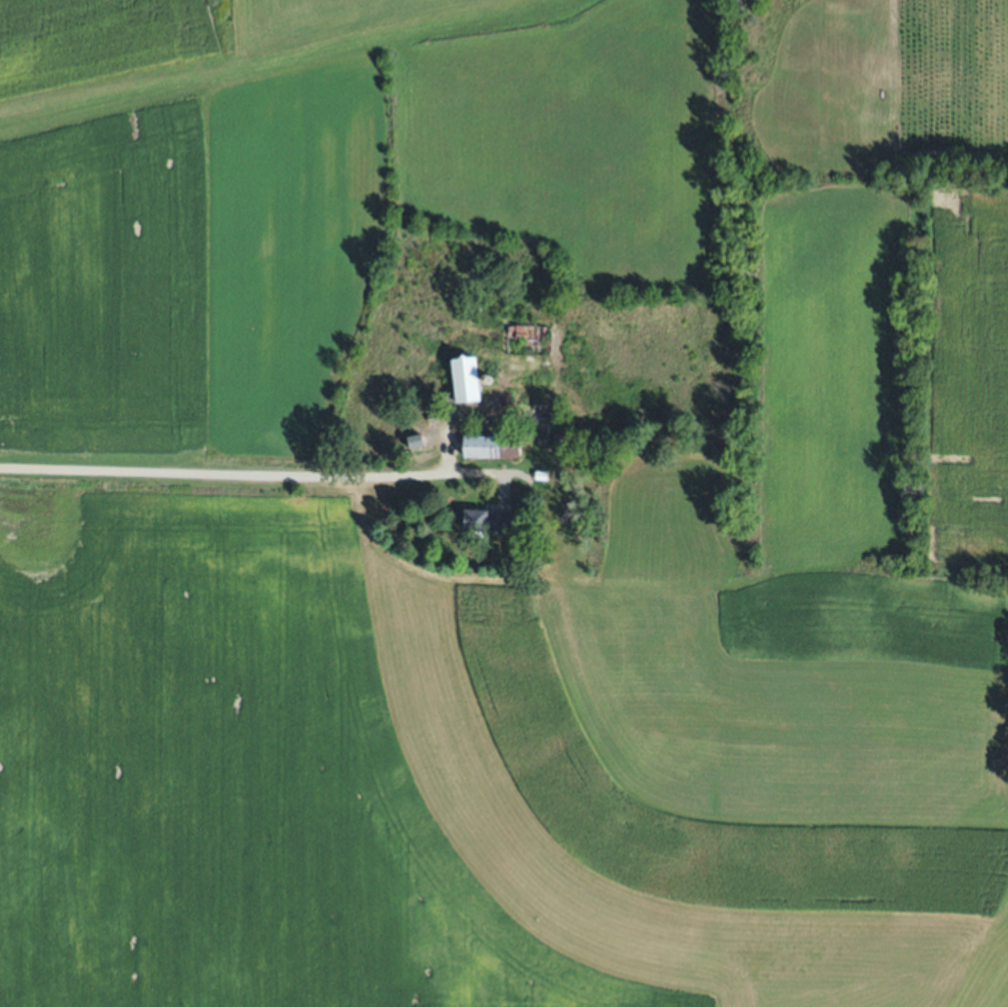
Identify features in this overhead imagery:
building: (529, 340)
building: (465, 378)
building: (449, 397)
building: (544, 411)
building: (493, 445)
road: (254, 475)
building: (489, 519)

